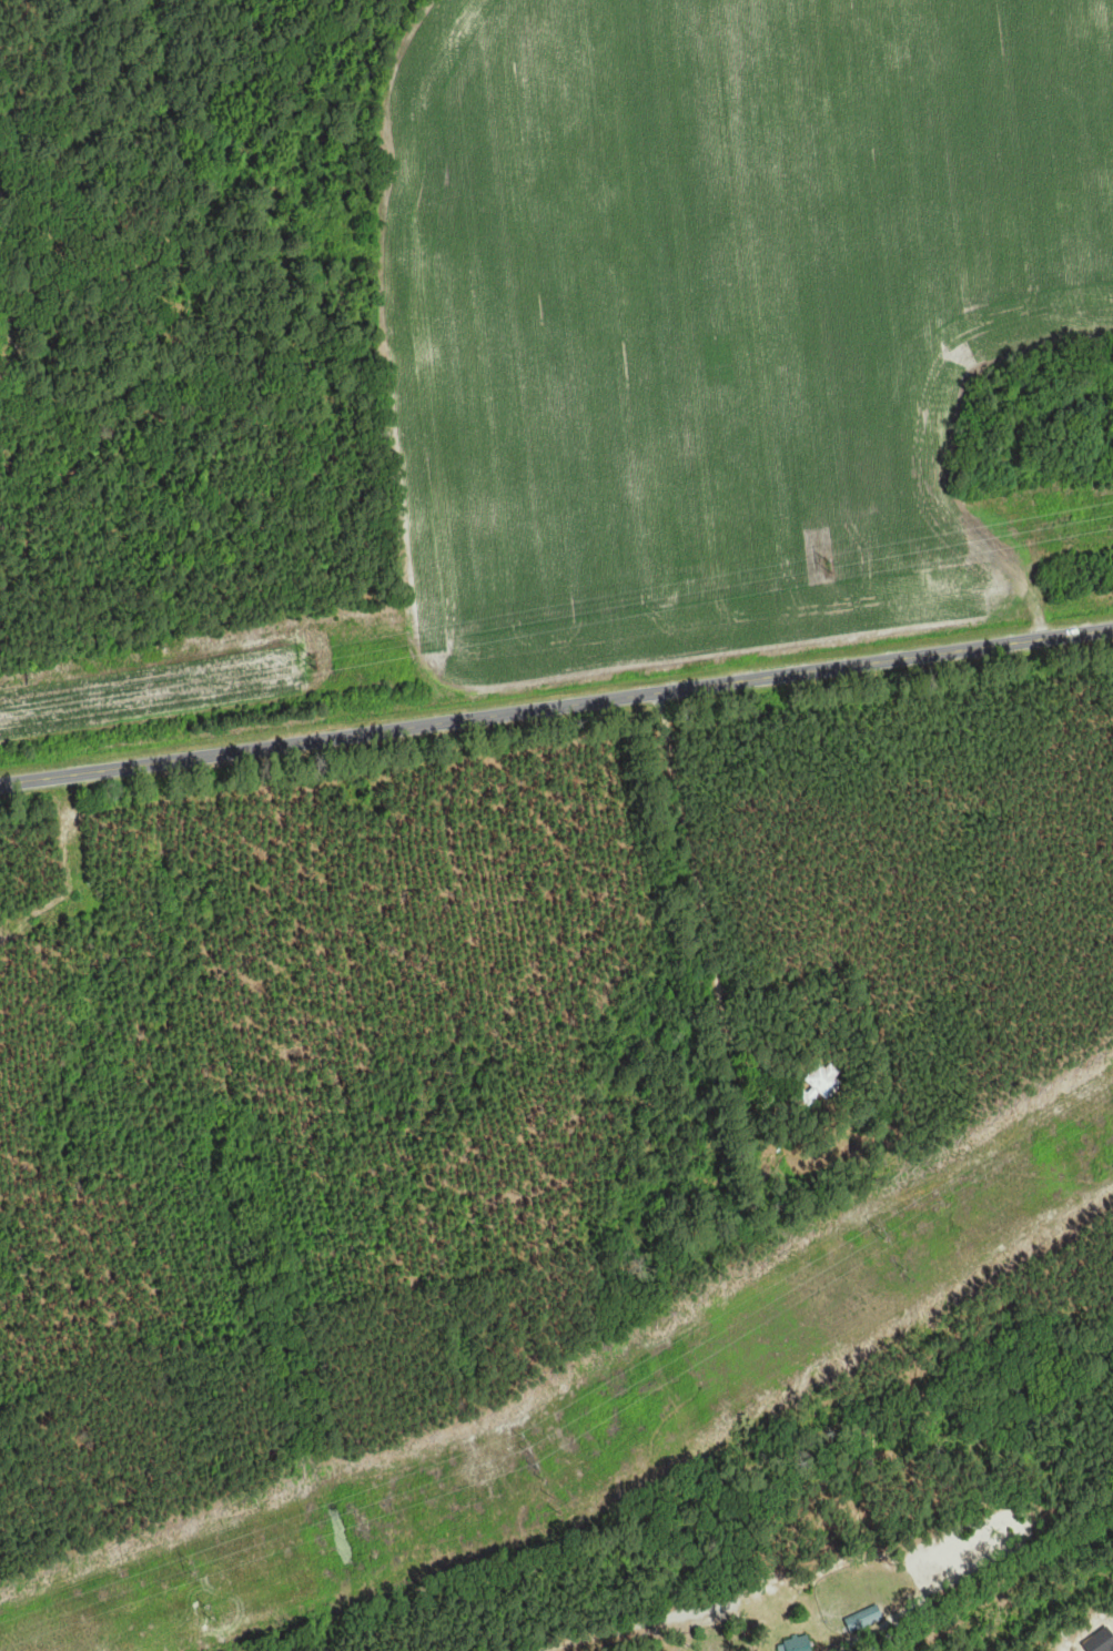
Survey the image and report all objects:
power tower: (830, 565)
power tower: (313, 659)
road: (556, 708)
building: (823, 1081)
power tower: (882, 1232)
power tower: (910, 1269)
power tower: (529, 1451)
power tower: (555, 1495)
power tower: (194, 1569)
power tower: (214, 1608)
road: (654, 1619)

